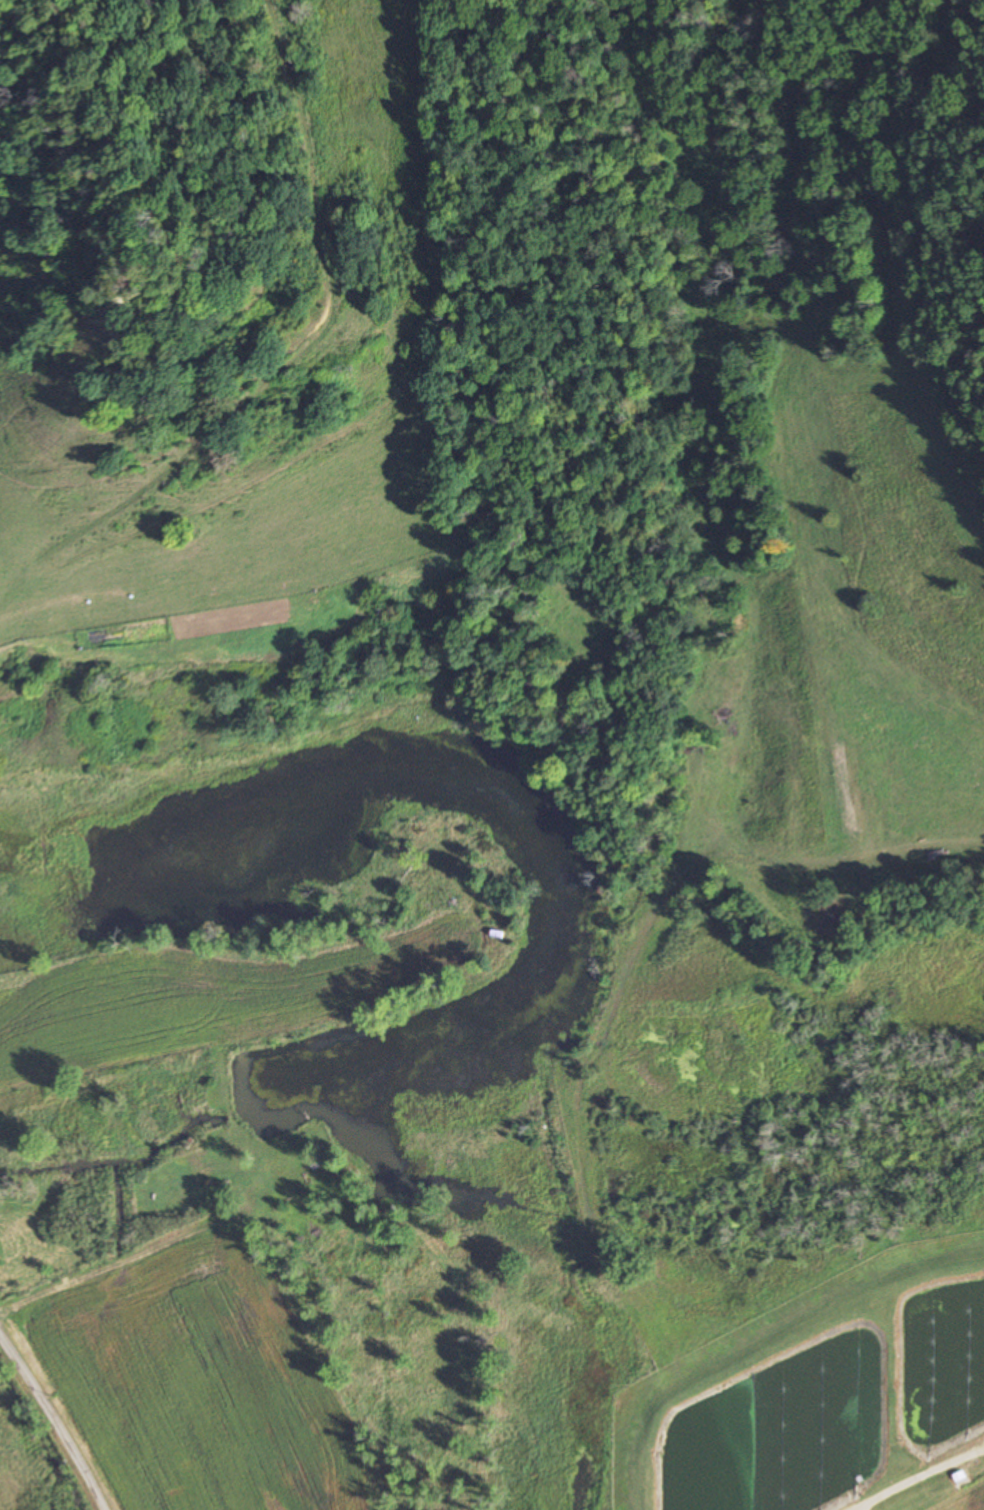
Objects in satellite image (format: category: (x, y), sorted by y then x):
road: (55, 1423)

